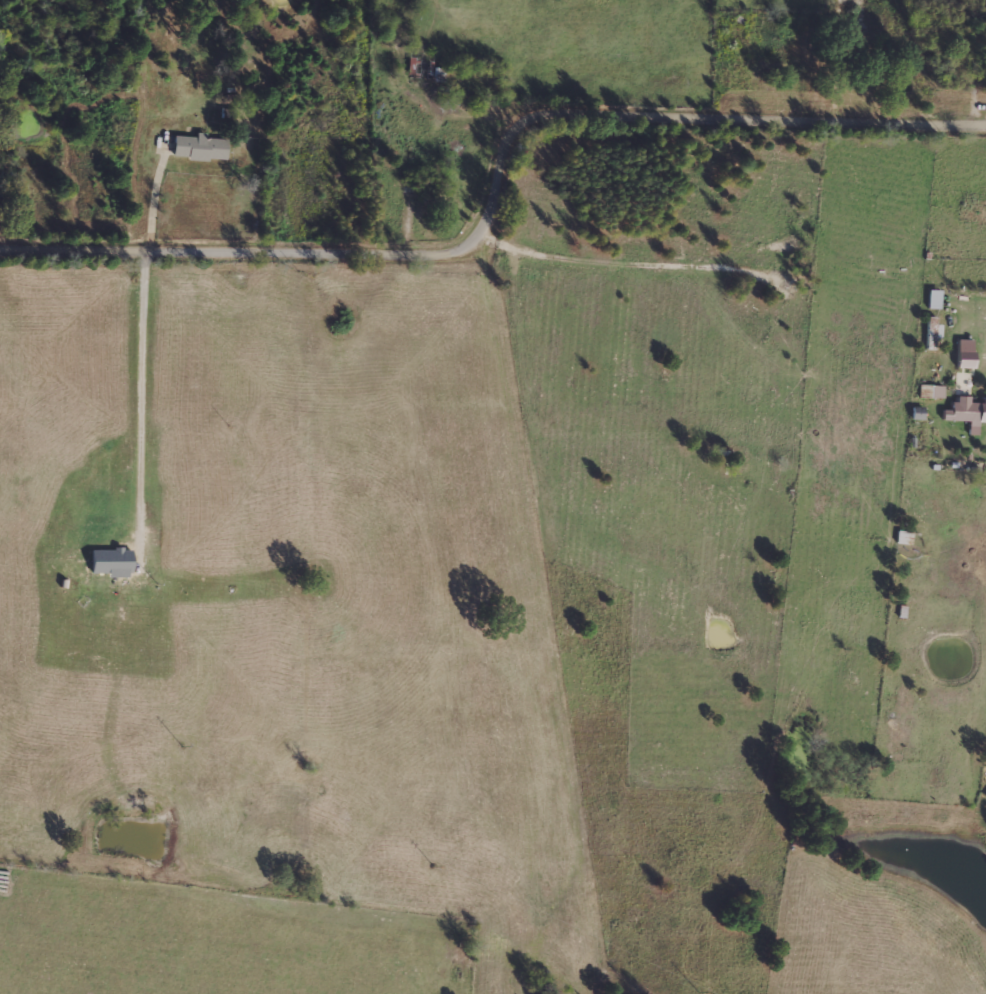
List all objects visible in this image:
building: (197, 147)
road: (498, 194)
building: (932, 299)
building: (963, 359)
building: (934, 391)
building: (966, 412)

